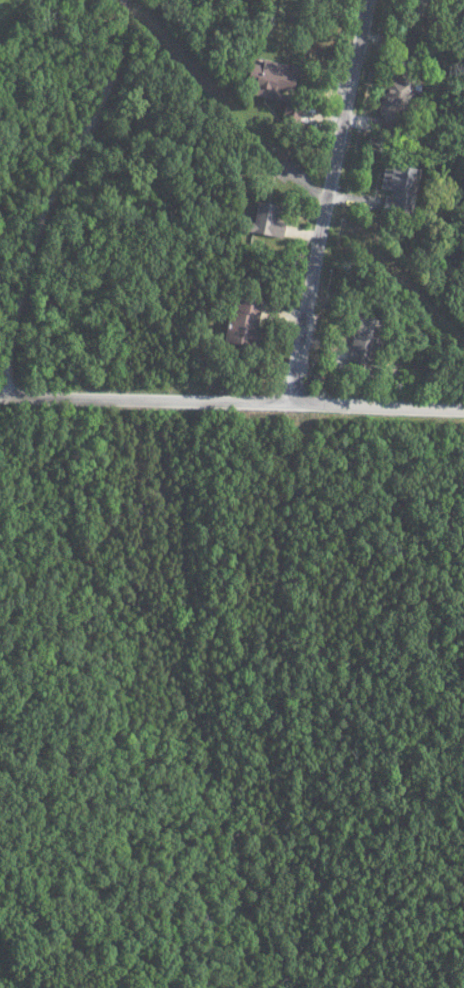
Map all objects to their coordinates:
building: (266, 77)
building: (394, 97)
building: (289, 111)
building: (401, 193)
road: (51, 194)
road: (328, 203)
building: (263, 222)
building: (238, 320)
building: (358, 335)
road: (231, 405)

